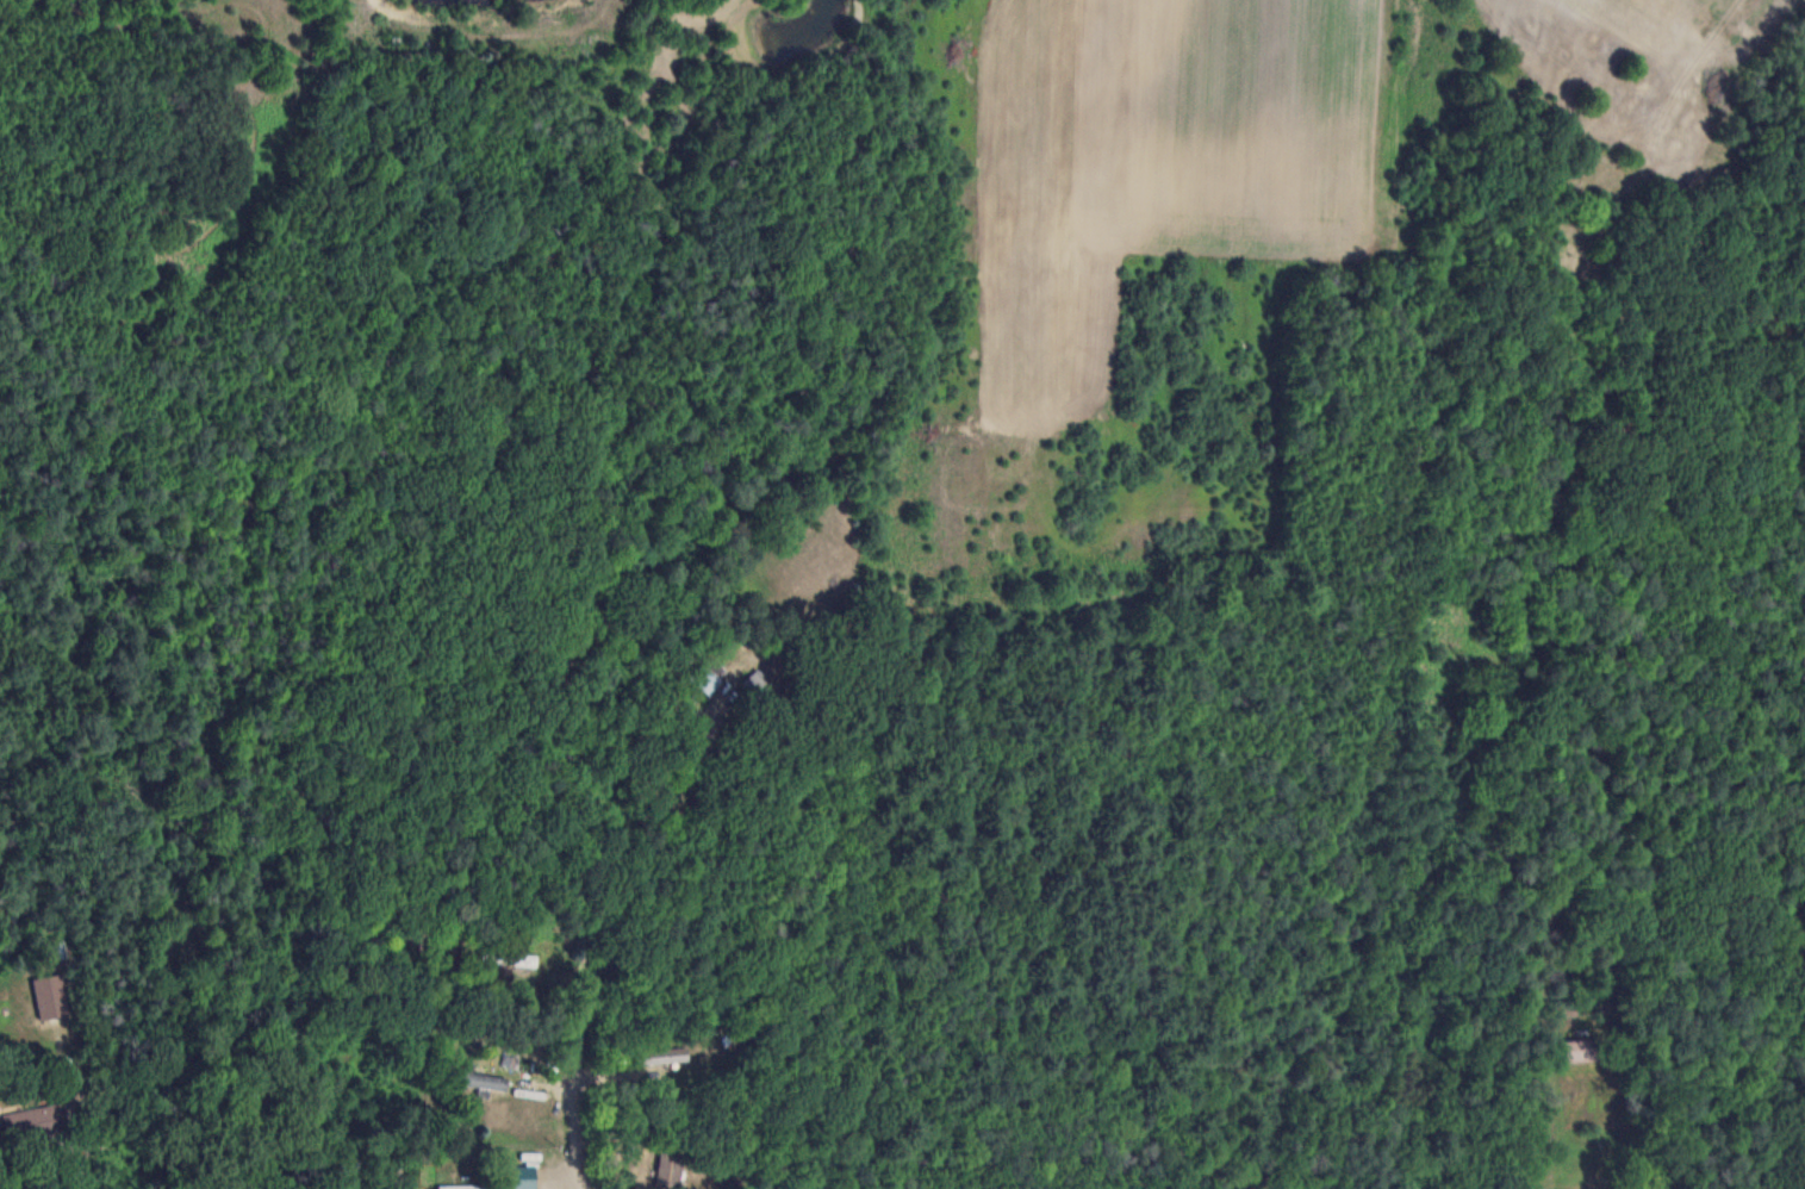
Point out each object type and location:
building: (705, 676)
building: (50, 994)
road: (1146, 1009)
building: (1583, 1050)
building: (661, 1054)
building: (479, 1078)
road: (569, 1119)
building: (32, 1121)
building: (522, 1176)

